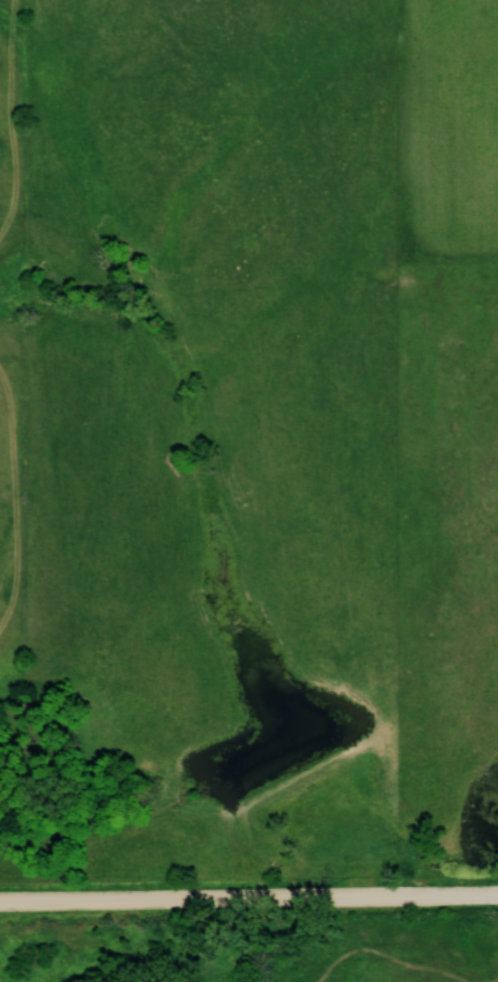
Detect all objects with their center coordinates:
road: (249, 901)

